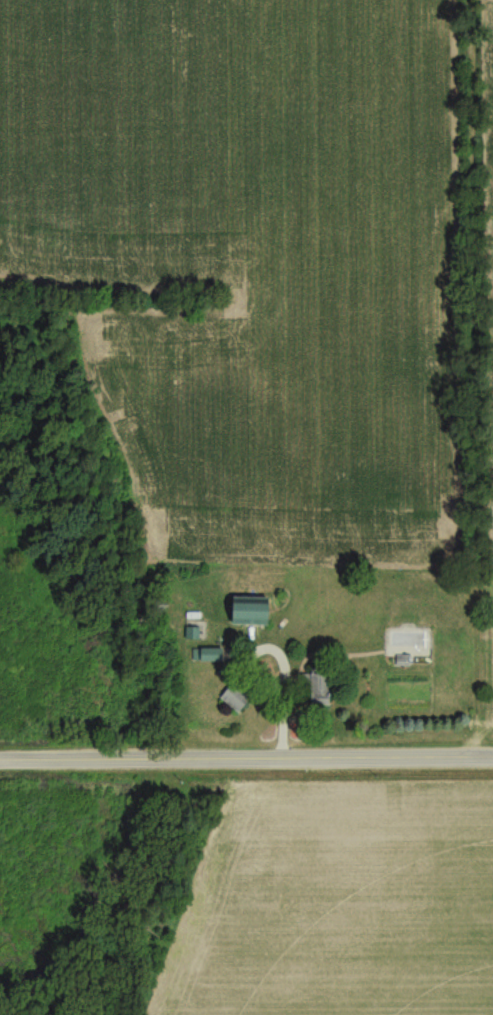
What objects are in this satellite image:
crop: (490, 141)
crop: (254, 261)
building: (262, 614)
building: (210, 657)
building: (319, 692)
building: (235, 699)
road: (246, 755)
crop: (336, 907)

